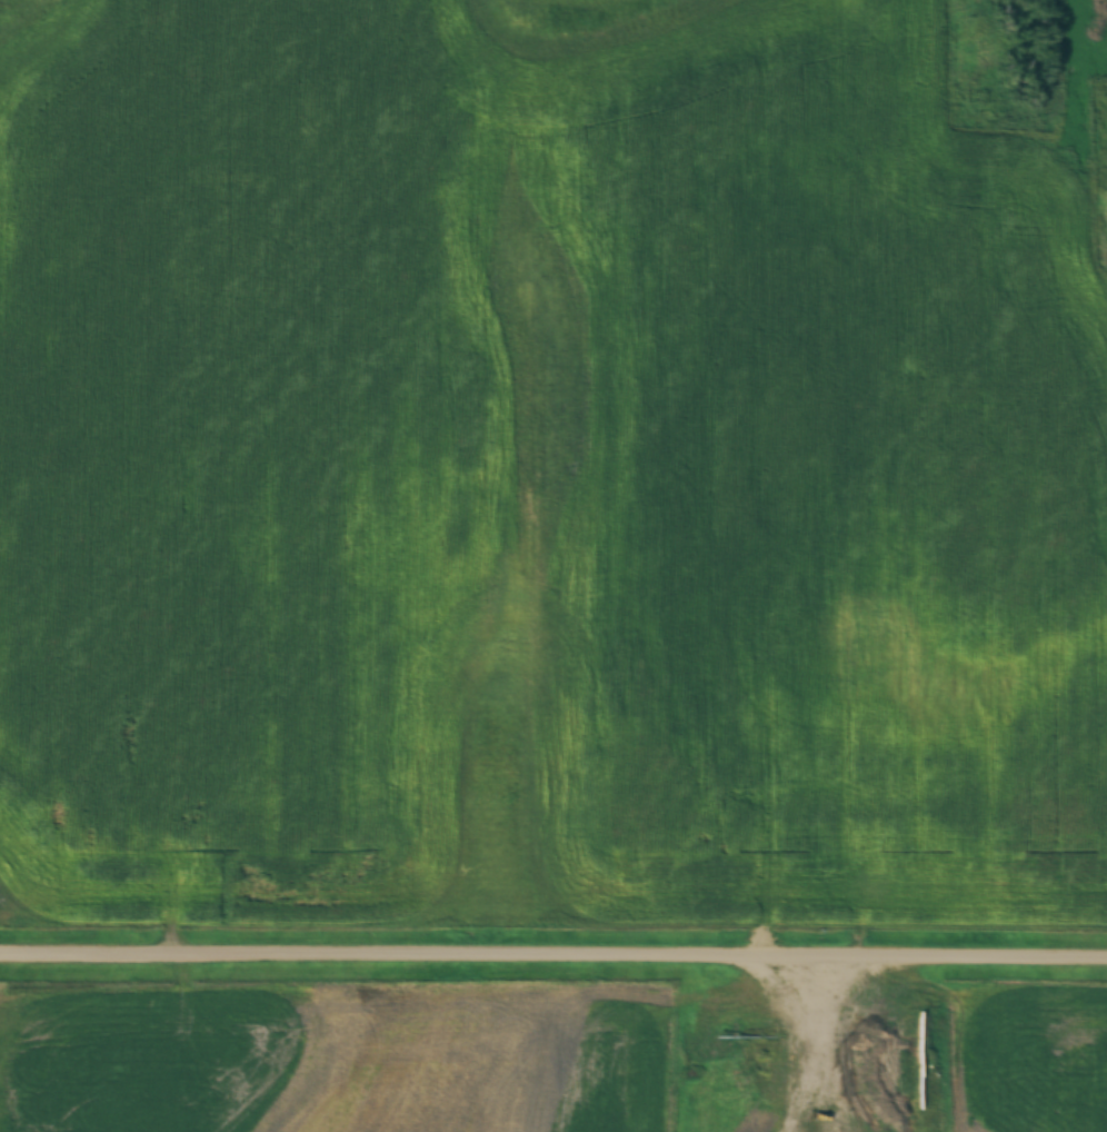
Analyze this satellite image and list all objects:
road: (553, 951)

